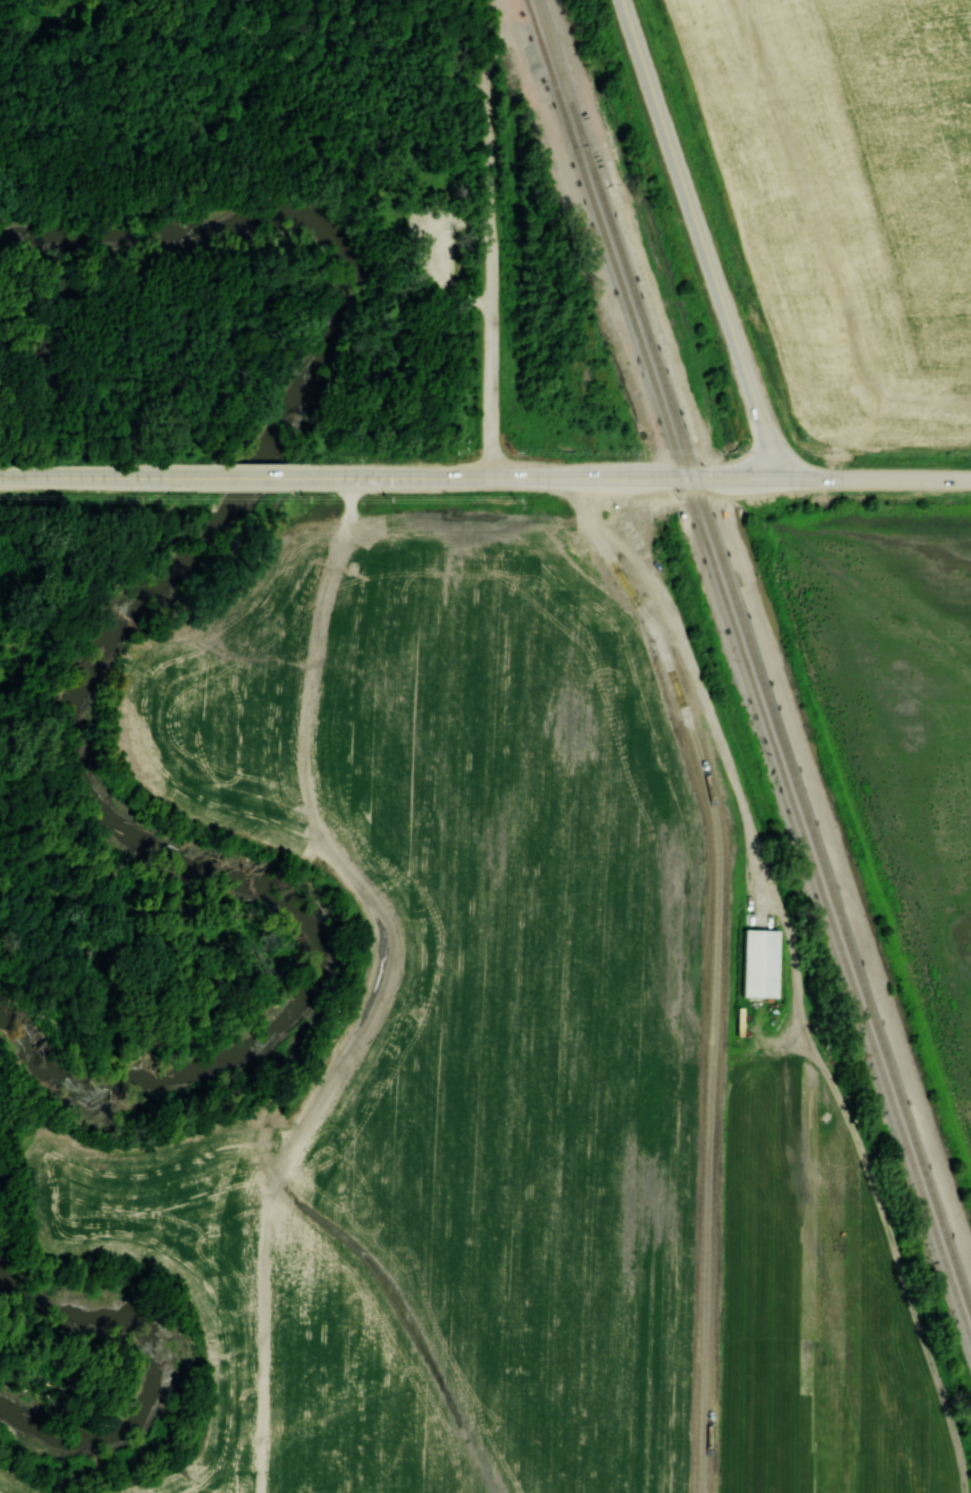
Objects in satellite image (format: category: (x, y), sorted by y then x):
road: (208, 3)
road: (210, 3)
road: (382, 20)
road: (331, 95)
road: (487, 121)
park: (577, 156)
railway: (604, 236)
road: (701, 238)
parking lot: (433, 242)
road: (435, 245)
park: (198, 307)
road: (489, 349)
road: (637, 472)
road: (727, 472)
park: (634, 473)
road: (96, 476)
road: (252, 477)
road: (452, 477)
road: (871, 478)
road: (682, 481)
river: (95, 650)
railway: (756, 652)
railway: (826, 905)
building: (759, 962)
road: (714, 973)
river: (152, 1365)

